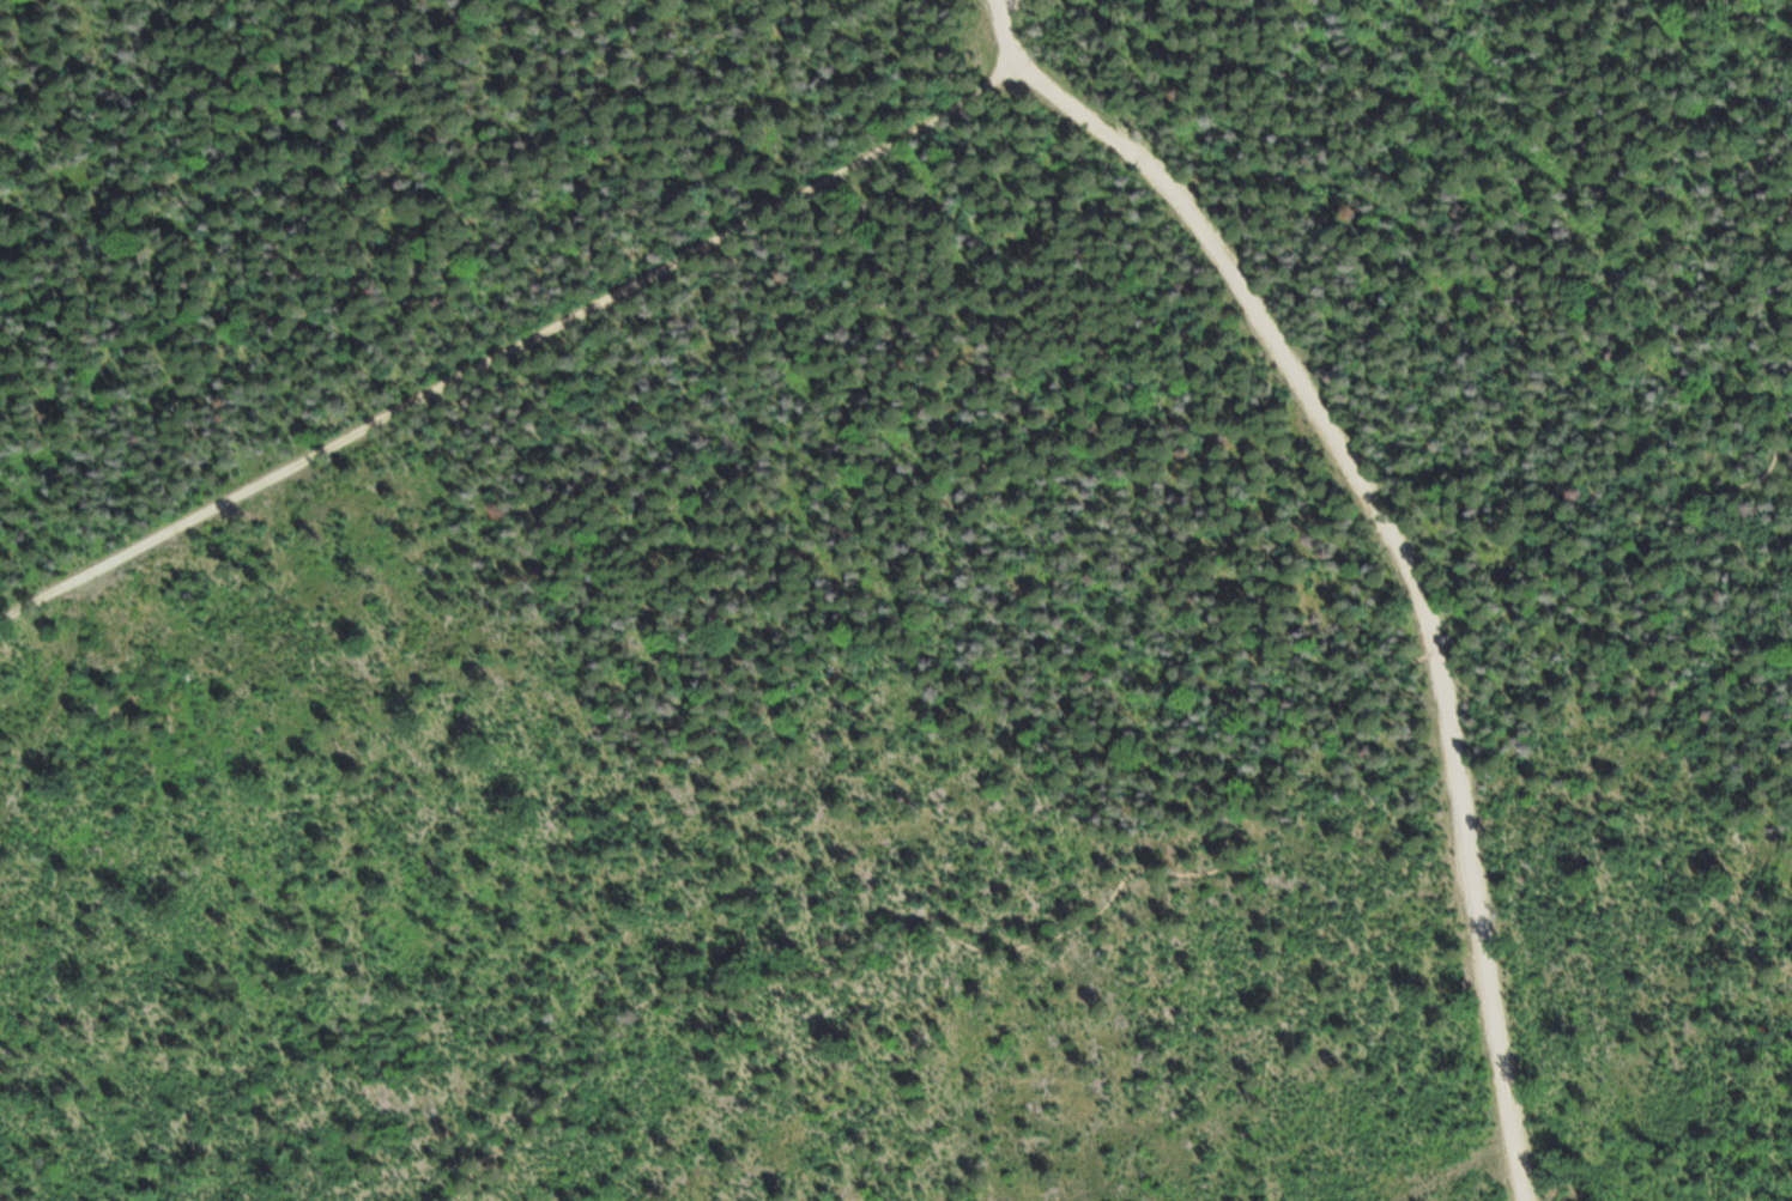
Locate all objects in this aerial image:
road: (513, 352)
road: (1394, 535)
road: (1139, 875)

